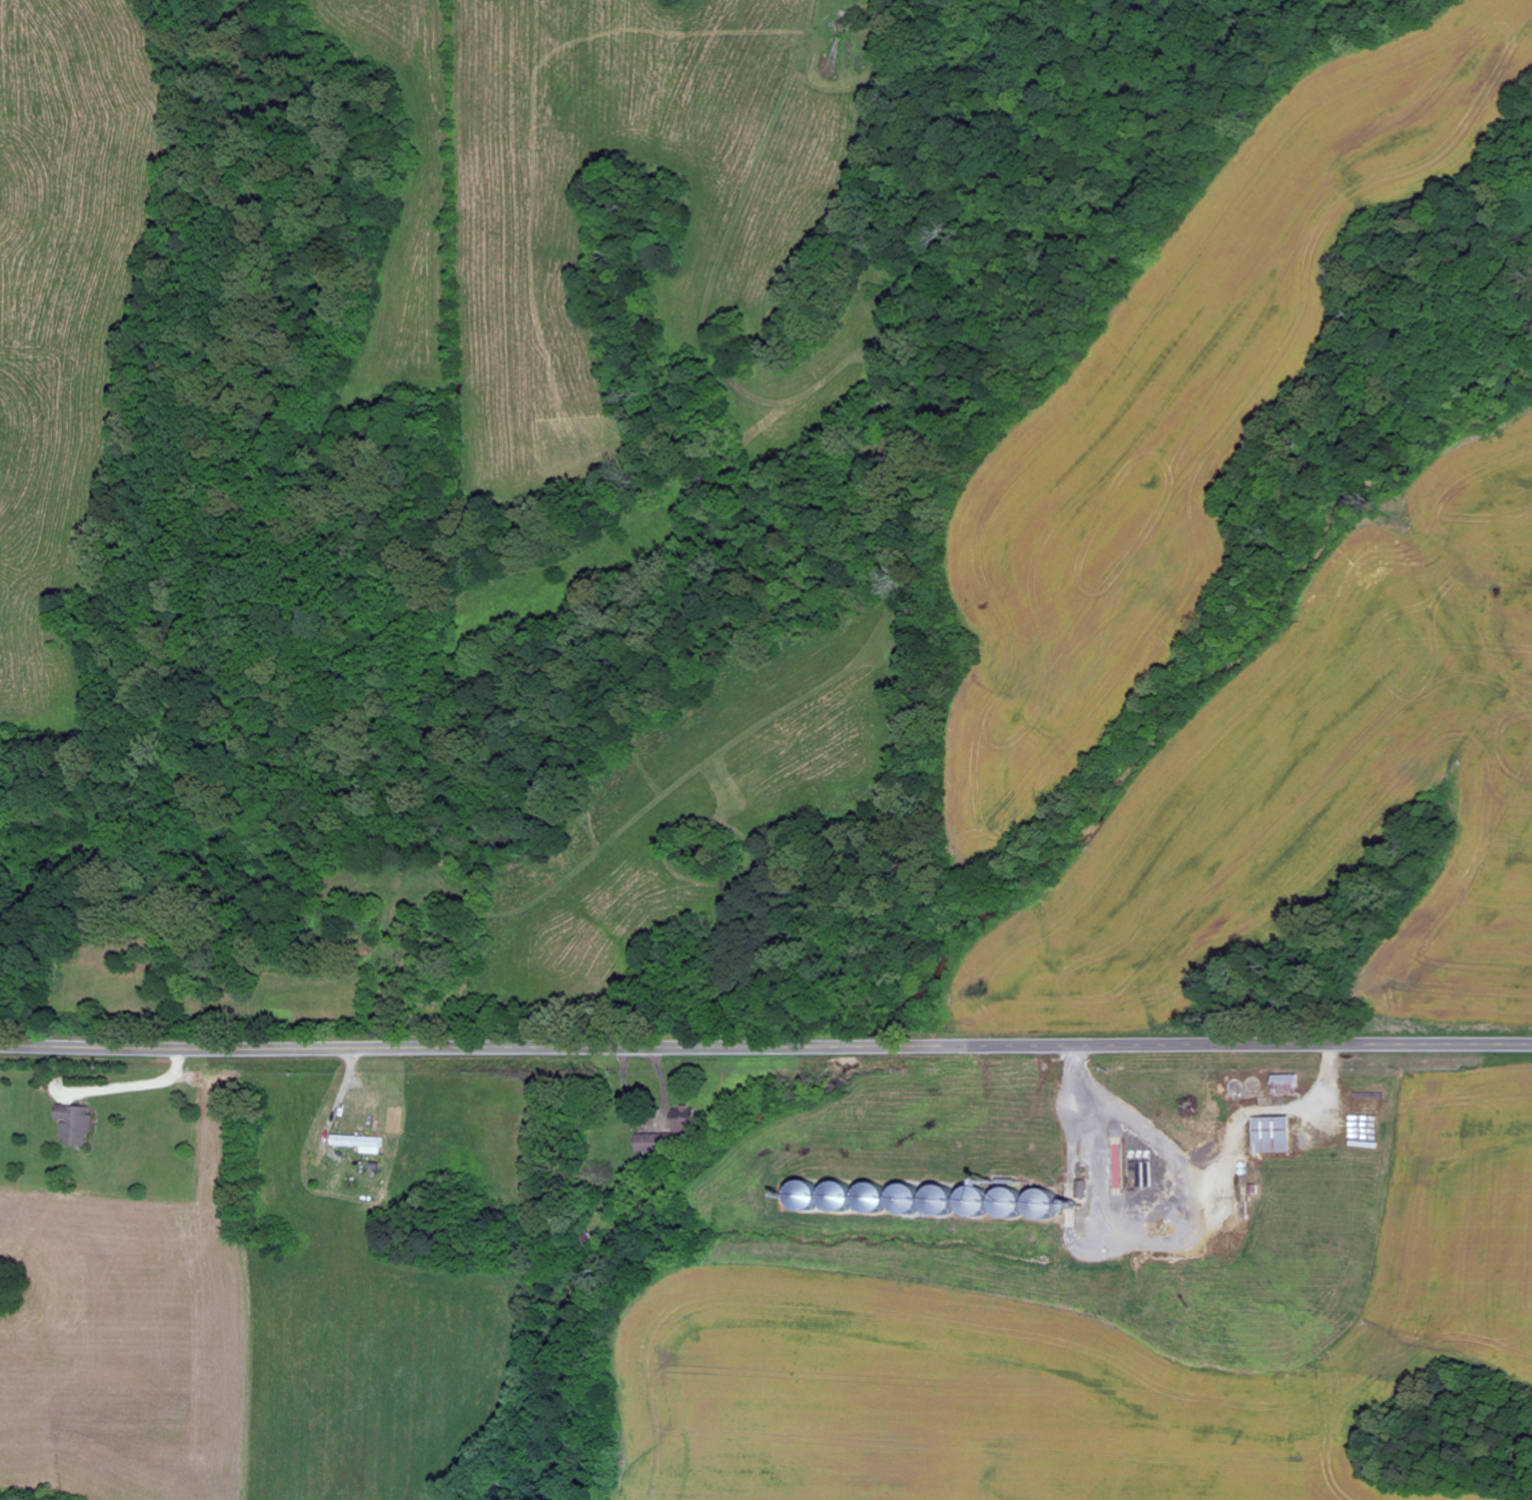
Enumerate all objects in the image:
road: (765, 1047)
building: (74, 1124)
building: (337, 1141)
building: (367, 1144)

